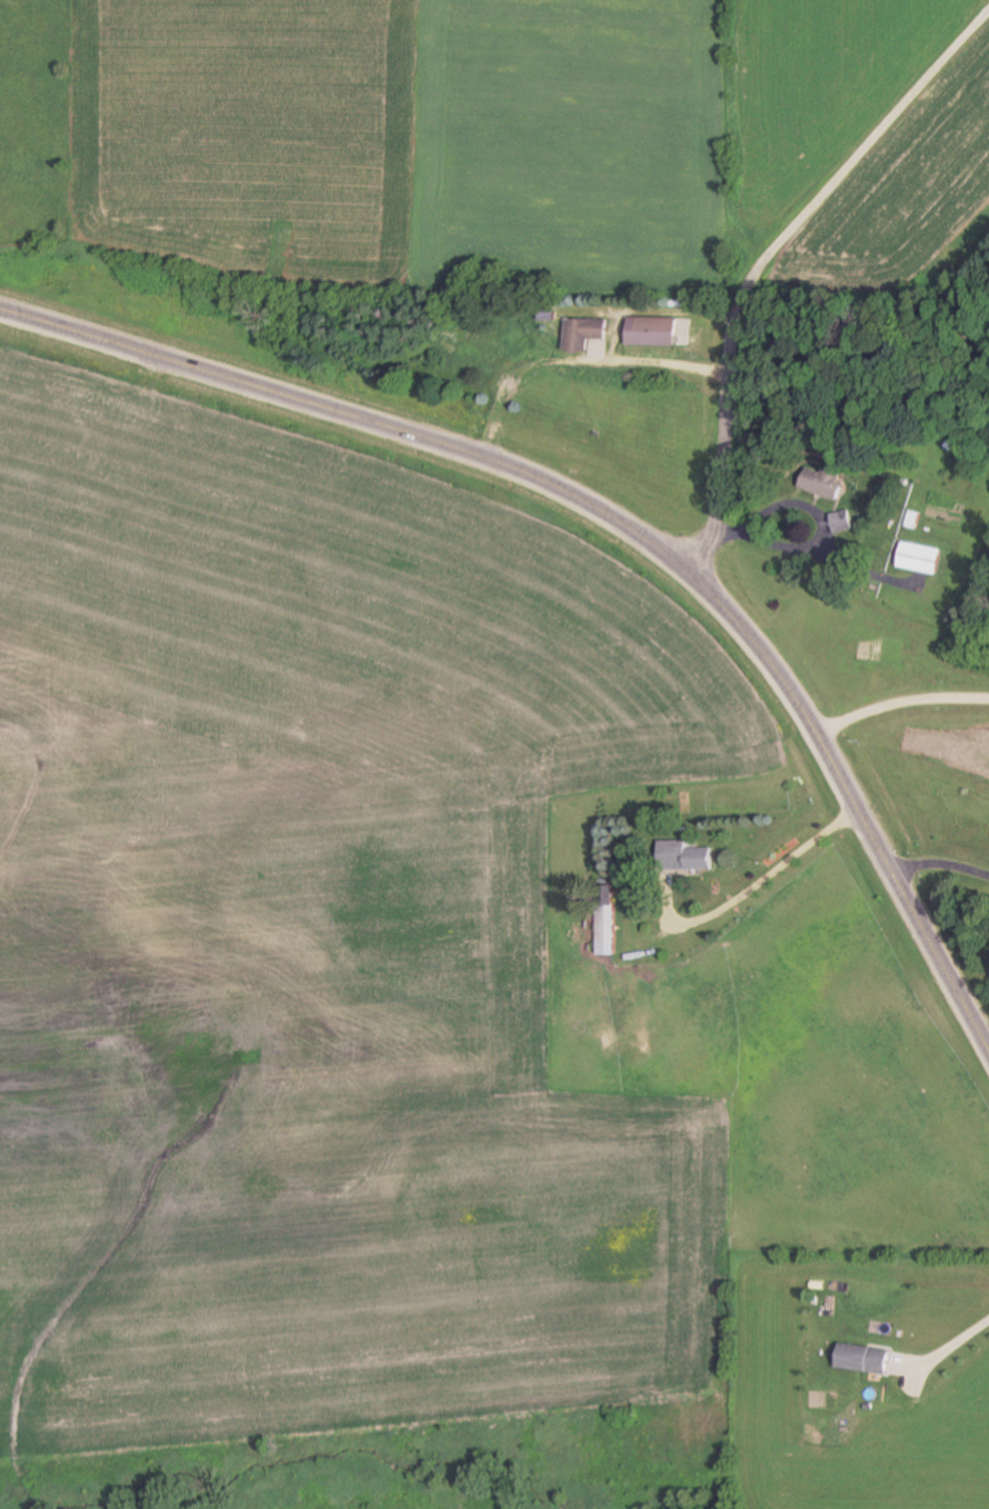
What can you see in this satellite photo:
road: (945, 52)
road: (737, 313)
building: (653, 320)
building: (587, 321)
building: (822, 478)
road: (615, 514)
building: (842, 523)
building: (920, 559)
building: (684, 857)
building: (606, 921)
building: (863, 1359)
road: (953, 1359)

